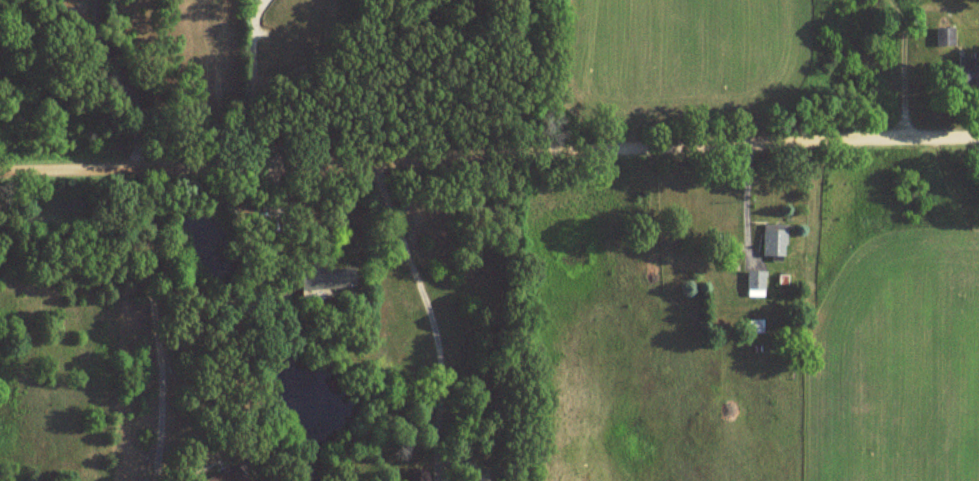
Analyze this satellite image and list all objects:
building: (942, 35)
building: (969, 68)
road: (248, 81)
road: (123, 83)
road: (489, 157)
building: (771, 241)
building: (321, 279)
building: (754, 283)
road: (441, 316)
road: (169, 324)
building: (753, 326)
building: (222, 475)

